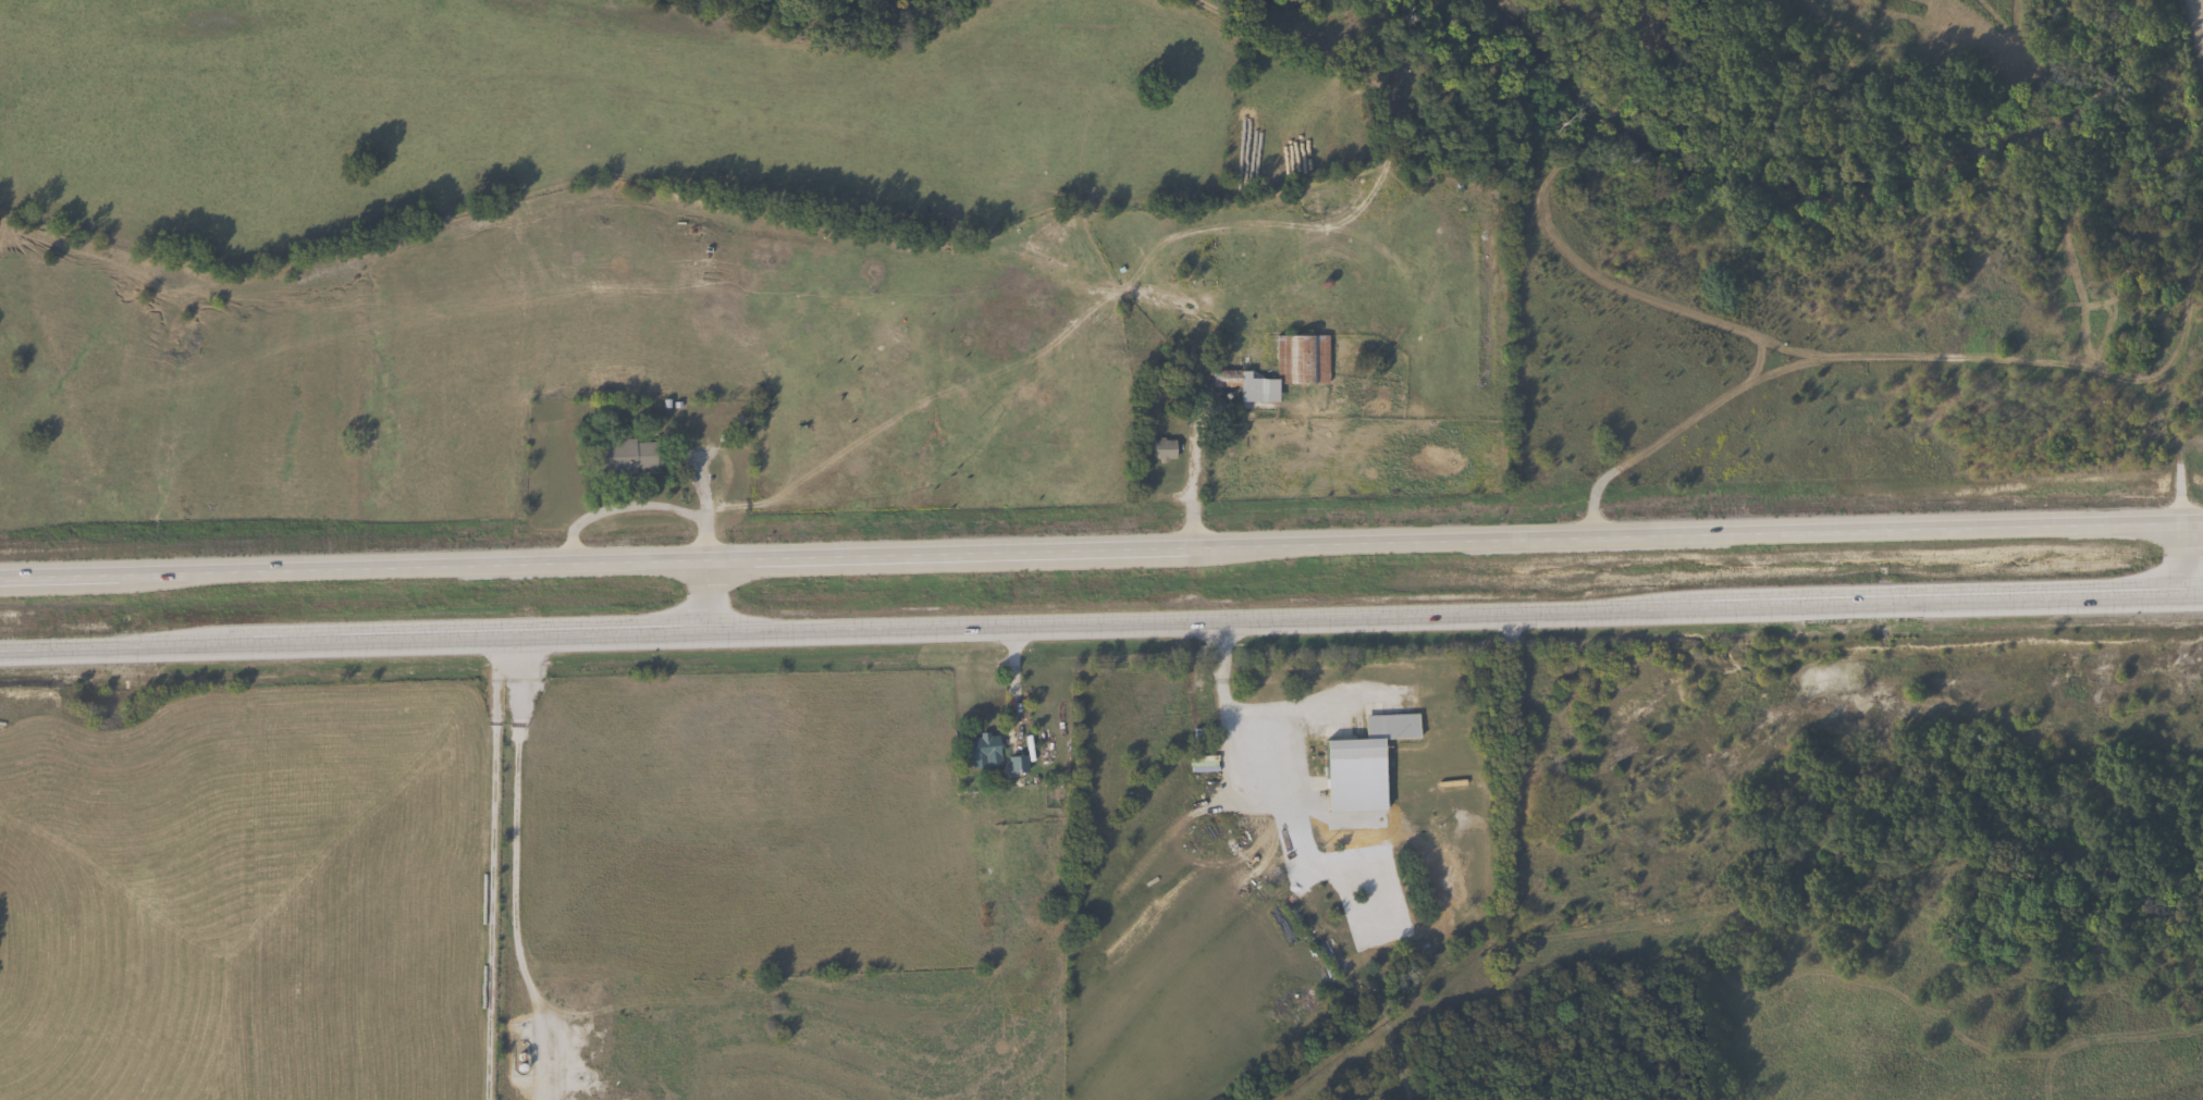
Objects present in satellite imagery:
road: (1899, 357)
building: (1281, 370)
building: (1165, 450)
building: (631, 457)
road: (639, 506)
road: (1101, 552)
road: (2181, 559)
road: (704, 596)
road: (1100, 623)
building: (1376, 738)
building: (985, 753)
road: (1252, 801)
road: (512, 860)
building: (1442, 878)

